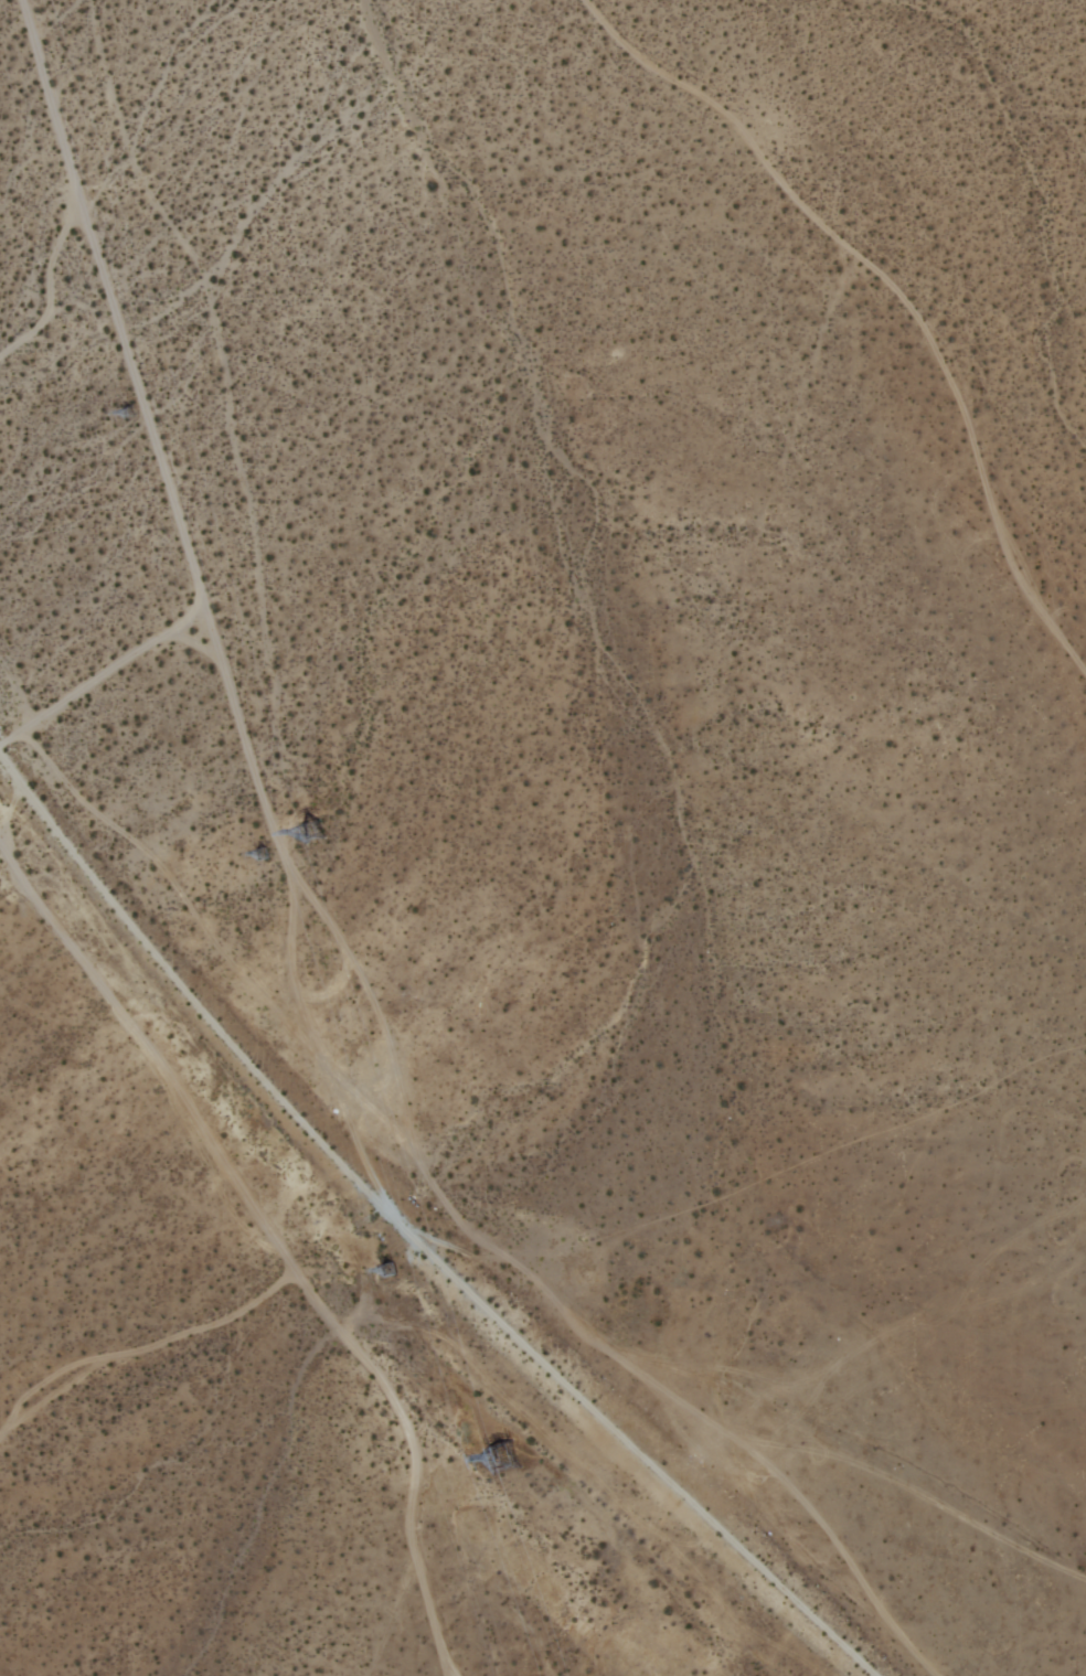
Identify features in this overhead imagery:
power tower: (109, 423)
power tower: (304, 842)
power tower: (251, 857)
power tower: (491, 1462)

